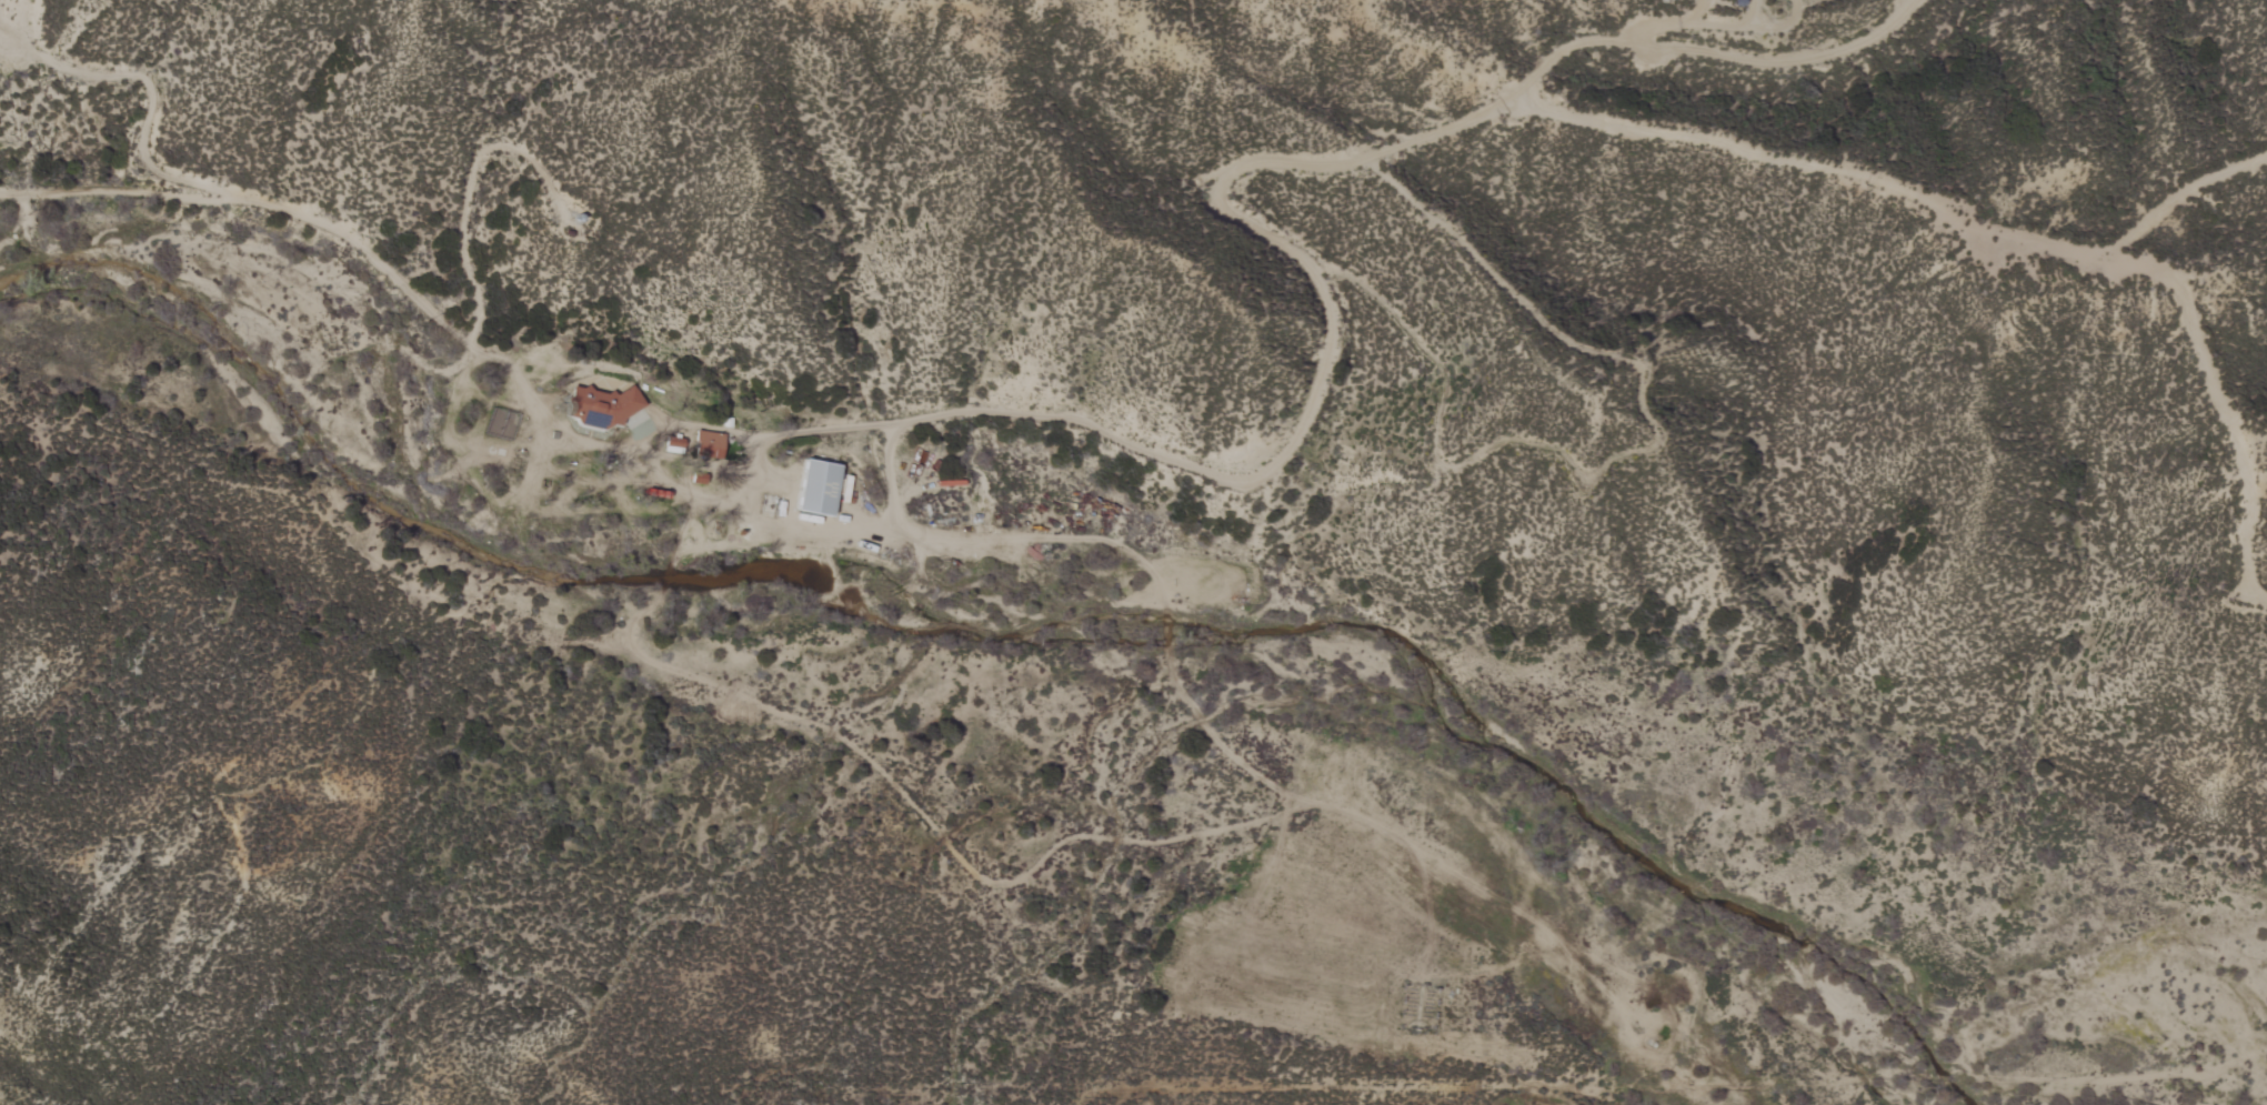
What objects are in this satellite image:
road: (1699, 26)
road: (1556, 56)
road: (463, 184)
road: (781, 423)
building: (822, 486)
road: (909, 528)

